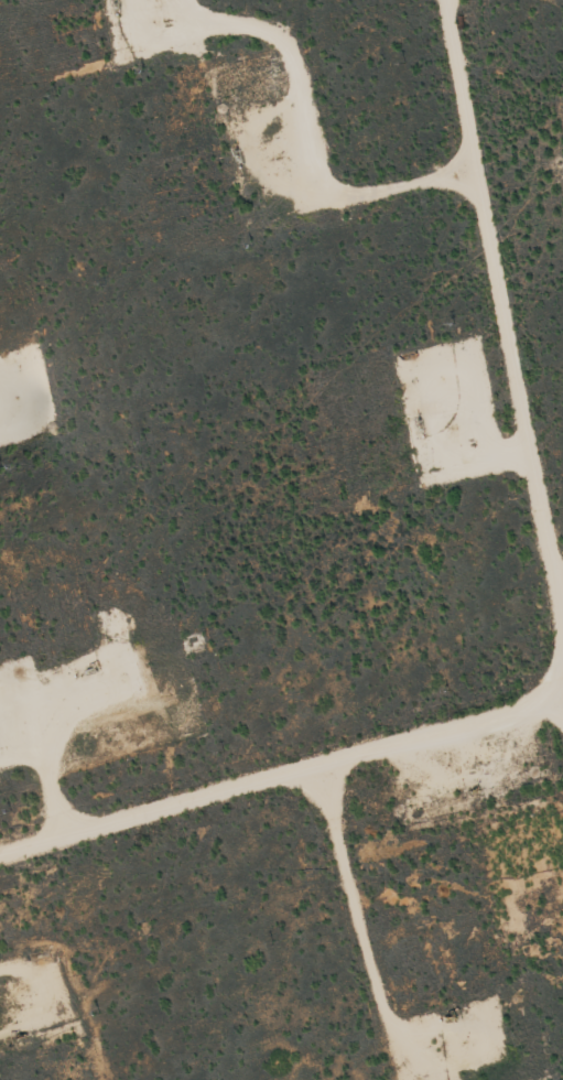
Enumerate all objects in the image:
petroleum well: (234, 149)
road: (505, 302)
petroleum well: (82, 668)
road: (306, 774)
petroleum well: (470, 788)
petroleum well: (452, 1014)

